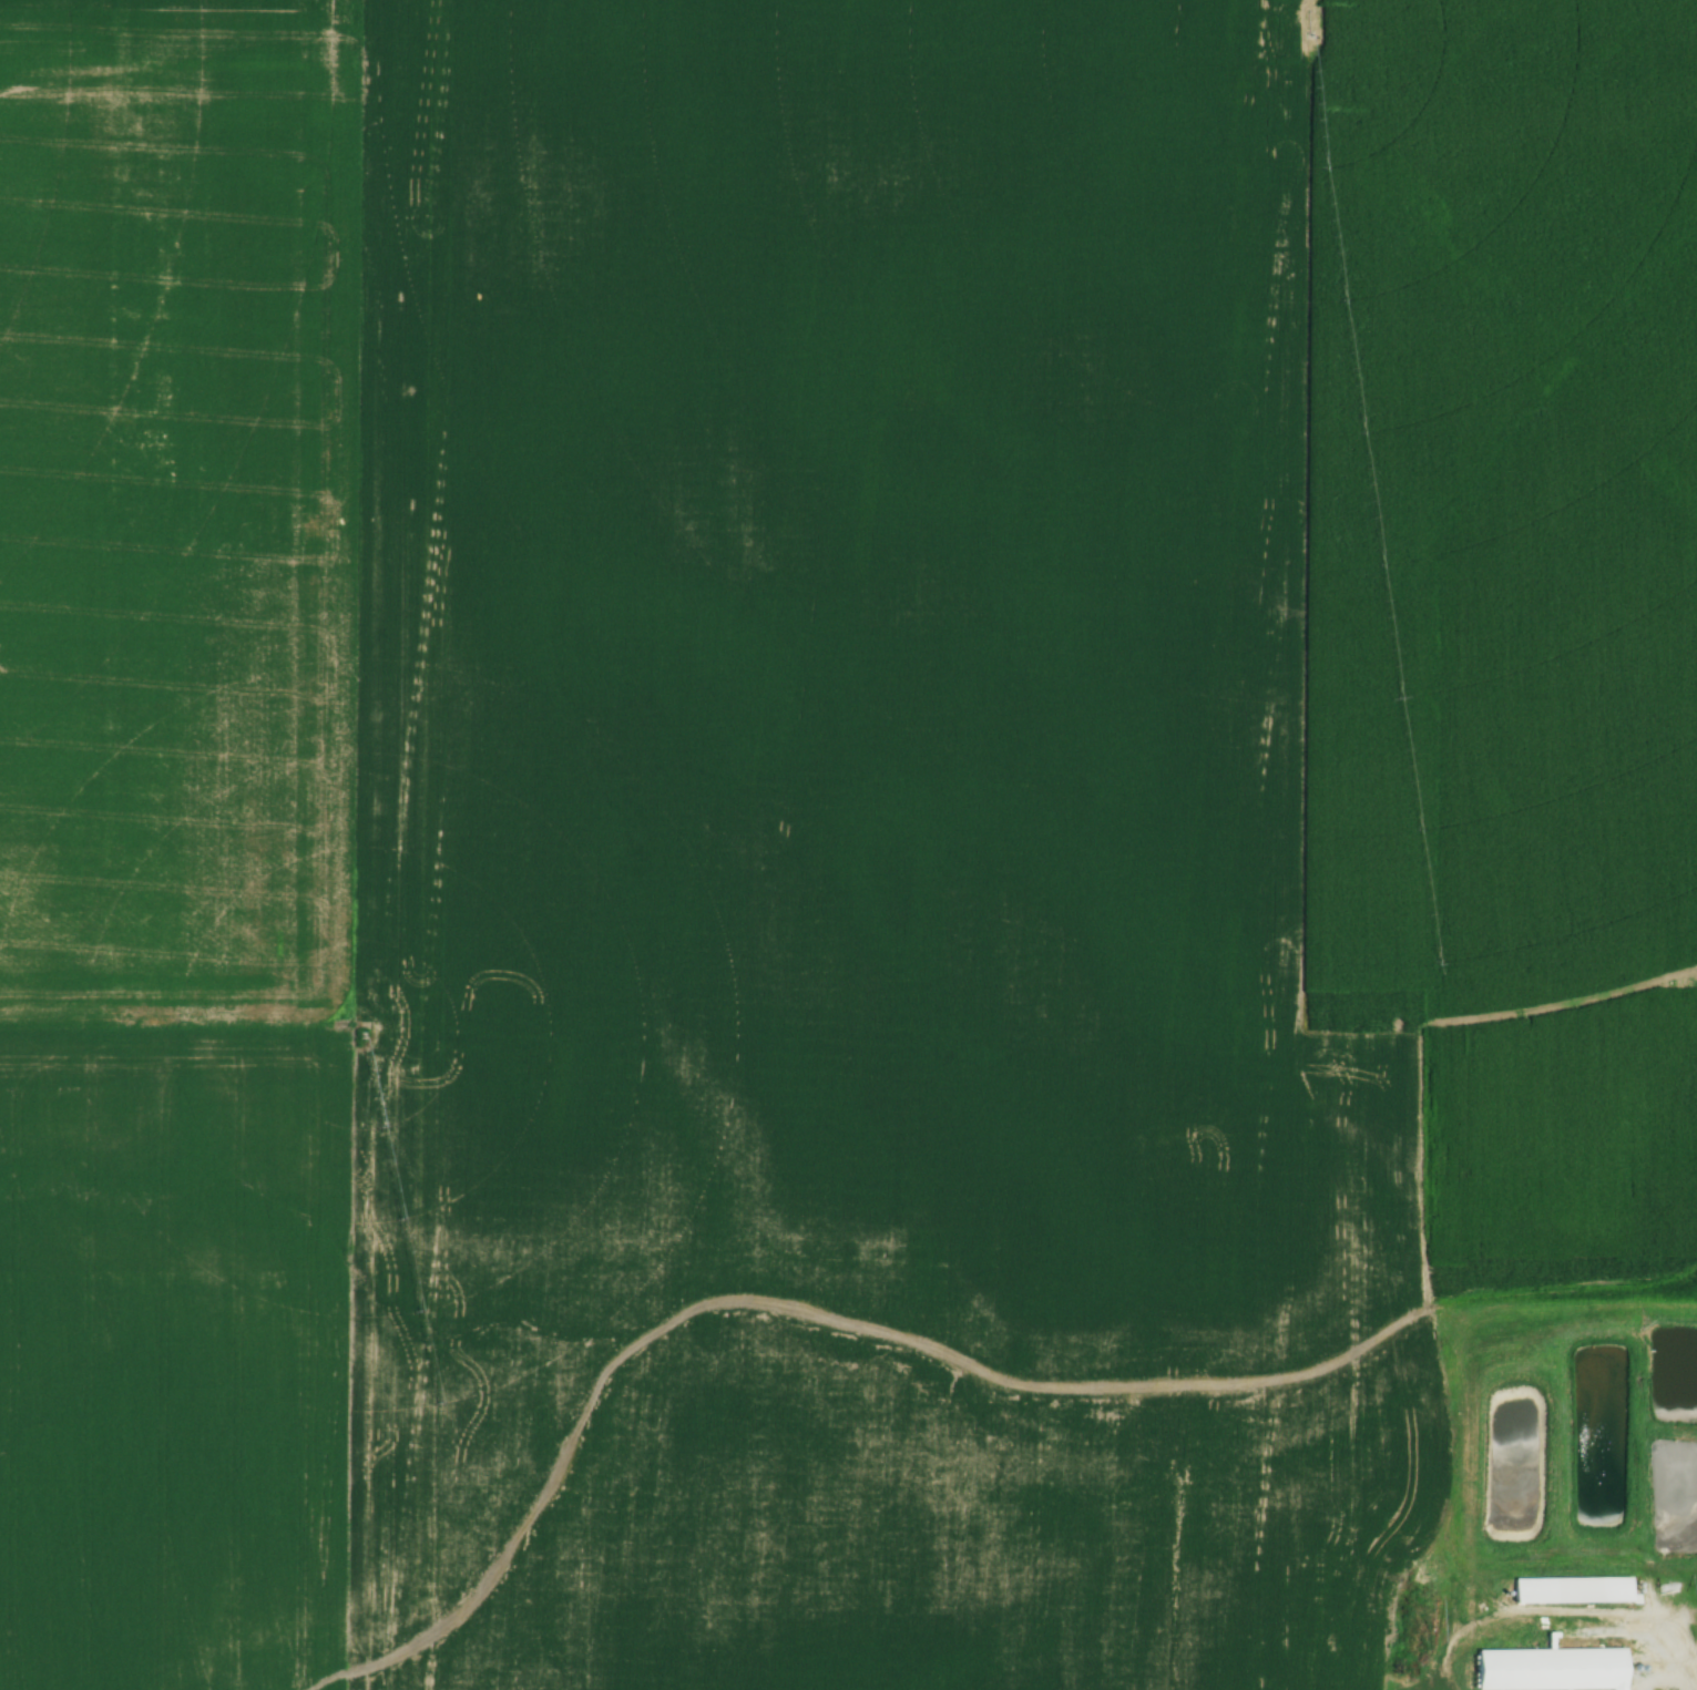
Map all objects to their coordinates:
building: (1566, 1590)

